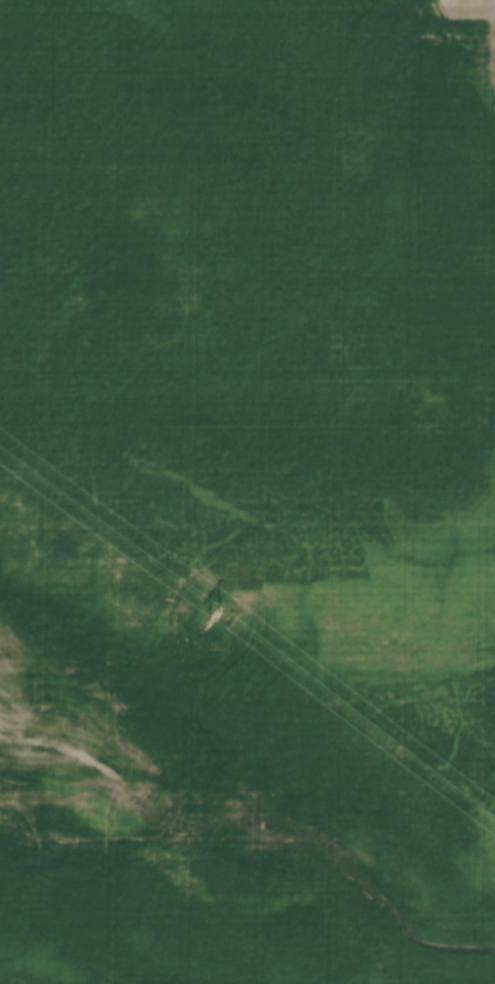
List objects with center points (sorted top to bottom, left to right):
power tower: (212, 617)

